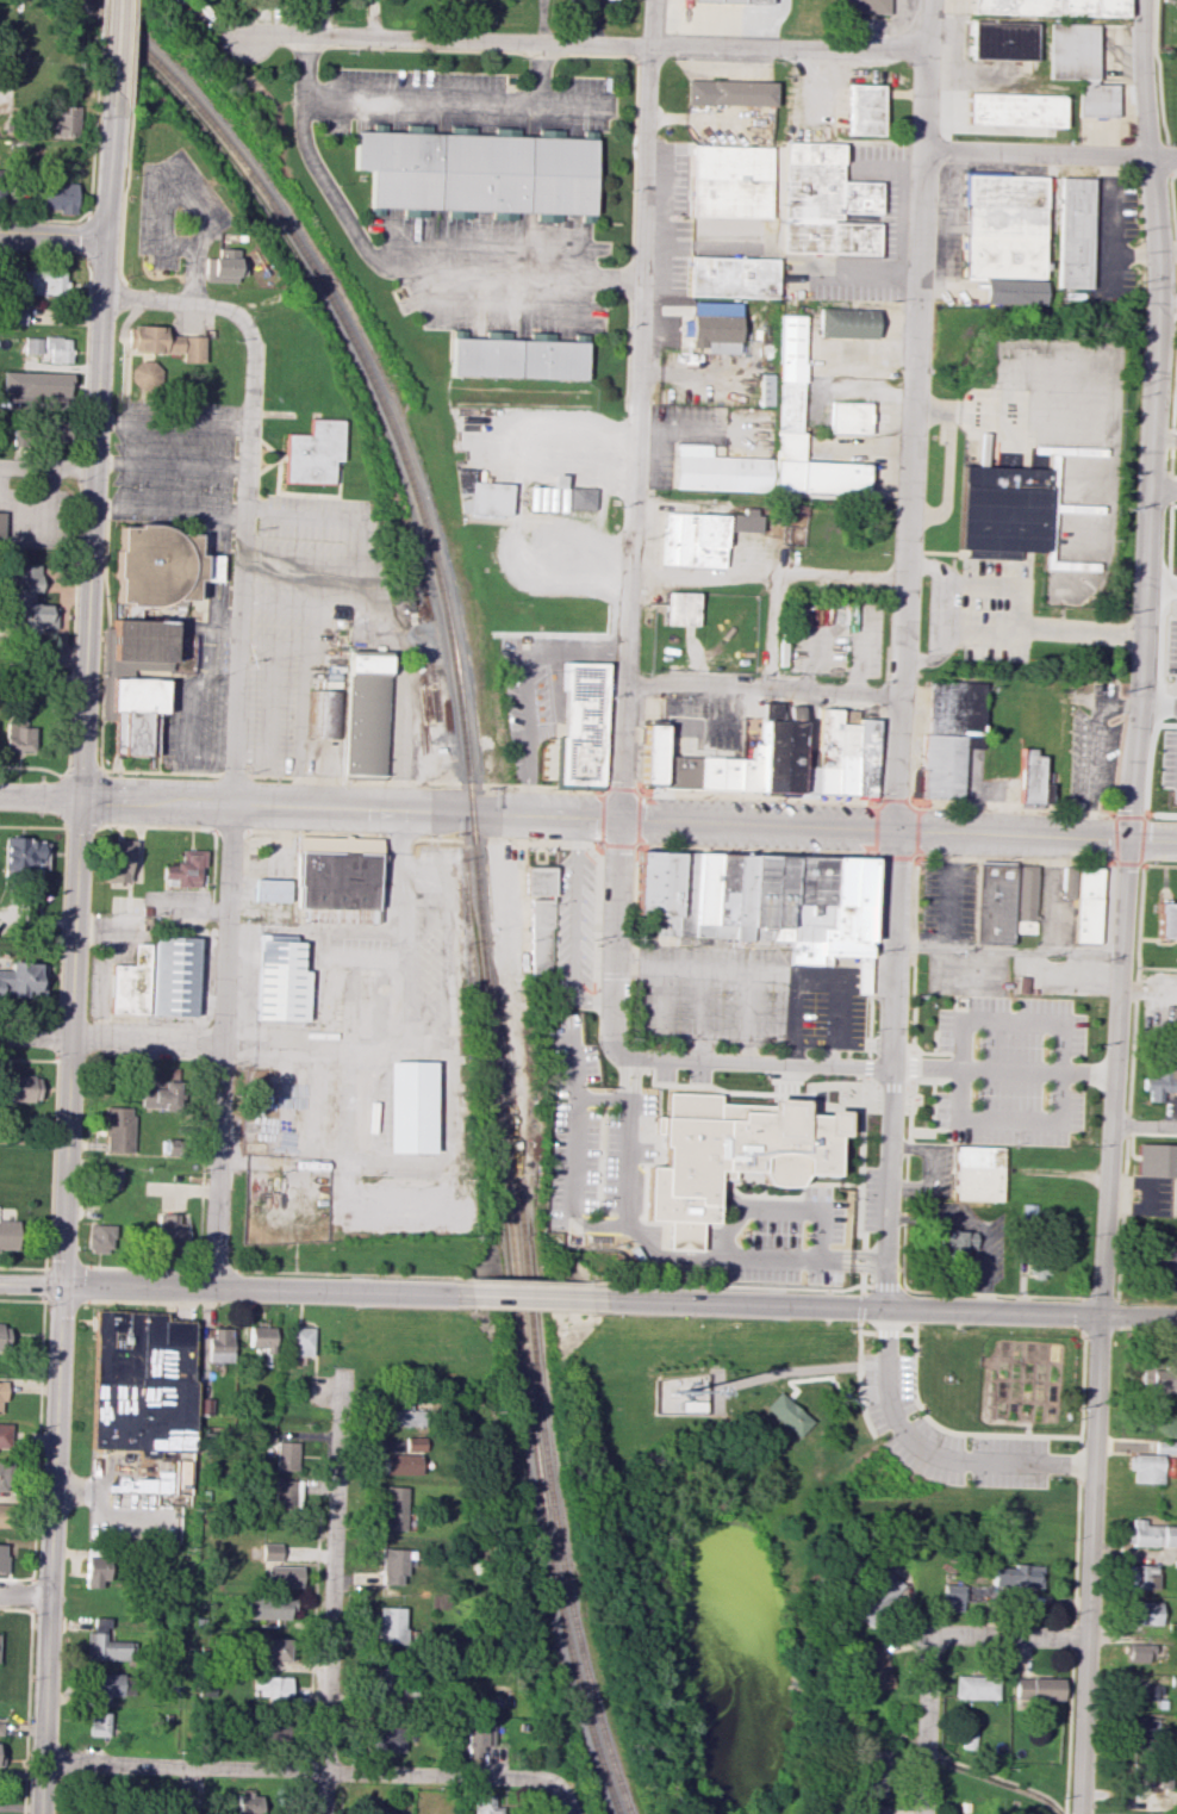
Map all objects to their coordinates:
building: (735, 0)
building: (1170, 0)
building: (864, 6)
building: (1051, 7)
road: (91, 27)
road: (131, 32)
building: (1002, 41)
road: (586, 43)
road: (113, 44)
building: (1079, 67)
road: (541, 73)
building: (729, 92)
road: (456, 102)
building: (864, 110)
building: (1016, 110)
building: (63, 122)
road: (88, 136)
road: (1048, 154)
road: (106, 163)
building: (478, 172)
road: (126, 176)
building: (729, 181)
building: (57, 197)
road: (163, 201)
building: (823, 203)
road: (45, 219)
road: (1107, 225)
building: (1003, 226)
building: (712, 229)
building: (1073, 231)
road: (51, 235)
road: (87, 238)
road: (778, 255)
road: (384, 263)
building: (220, 266)
road: (101, 267)
building: (730, 277)
building: (39, 281)
building: (1015, 292)
road: (131, 298)
road: (183, 303)
road: (1166, 303)
building: (14, 315)
building: (847, 322)
building: (714, 327)
road: (1176, 337)
building: (164, 342)
building: (49, 347)
park: (176, 358)
building: (518, 358)
road: (86, 359)
road: (147, 367)
building: (144, 374)
building: (787, 375)
building: (32, 386)
building: (764, 390)
road: (123, 403)
road: (634, 410)
road: (910, 416)
building: (849, 417)
road: (1151, 420)
road: (173, 422)
road: (247, 425)
building: (52, 429)
road: (1175, 430)
road: (1163, 446)
building: (315, 452)
road: (947, 459)
road: (172, 464)
road: (49, 467)
building: (718, 471)
road: (1162, 489)
building: (484, 493)
building: (580, 498)
road: (169, 508)
building: (1002, 510)
building: (793, 512)
road: (330, 517)
building: (743, 520)
building: (0, 526)
building: (693, 540)
road: (93, 547)
road: (952, 552)
road: (998, 560)
road: (307, 563)
road: (929, 566)
road: (205, 569)
road: (226, 570)
road: (784, 573)
road: (212, 577)
road: (704, 577)
road: (992, 585)
road: (381, 588)
road: (316, 605)
building: (679, 608)
flagpole: (193, 613)
road: (75, 616)
road: (176, 616)
road: (224, 623)
road: (323, 627)
building: (148, 629)
road: (107, 634)
road: (225, 639)
parking lot: (1171, 640)
road: (274, 647)
road: (237, 659)
road: (929, 659)
road: (1162, 659)
road: (523, 682)
road: (760, 687)
parking lot: (1104, 690)
road: (1158, 704)
road: (409, 708)
building: (325, 713)
building: (365, 715)
road: (269, 719)
road: (192, 720)
building: (583, 723)
road: (697, 728)
building: (948, 734)
building: (18, 735)
road: (1097, 739)
building: (826, 752)
building: (779, 753)
building: (649, 754)
road: (880, 754)
building: (865, 757)
parking lot: (1092, 757)
building: (846, 759)
parking lot: (1165, 762)
road: (32, 768)
road: (1175, 769)
building: (748, 770)
building: (805, 771)
building: (678, 772)
building: (717, 774)
building: (1029, 776)
road: (353, 779)
building: (1046, 787)
road: (759, 799)
road: (1014, 810)
road: (1160, 815)
road: (588, 818)
road: (99, 822)
road: (32, 825)
road: (157, 828)
road: (230, 832)
road: (422, 839)
road: (602, 844)
road: (755, 850)
building: (23, 853)
railway: (477, 855)
road: (916, 859)
road: (935, 859)
building: (117, 861)
road: (1038, 862)
road: (1116, 862)
road: (1159, 864)
building: (185, 868)
building: (1069, 882)
building: (336, 886)
building: (658, 887)
building: (272, 889)
building: (685, 893)
building: (703, 894)
building: (723, 895)
building: (741, 896)
building: (760, 896)
building: (781, 897)
building: (1025, 899)
road: (634, 900)
building: (994, 902)
building: (1088, 905)
road: (524, 907)
building: (809, 907)
building: (847, 908)
road: (1141, 915)
building: (541, 918)
building: (1166, 921)
road: (574, 925)
road: (611, 939)
road: (1157, 939)
road: (61, 951)
road: (1005, 951)
road: (913, 952)
road: (872, 955)
road: (1085, 967)
road: (1158, 968)
road: (760, 971)
building: (860, 974)
building: (173, 976)
road: (606, 977)
road: (1065, 979)
building: (23, 980)
building: (280, 981)
building: (130, 982)
road: (990, 987)
road: (1147, 992)
road: (947, 996)
road: (702, 1005)
road: (747, 1007)
road: (795, 1007)
building: (1175, 1020)
road: (111, 1039)
road: (714, 1042)
road: (862, 1044)
road: (223, 1045)
road: (208, 1050)
road: (702, 1051)
road: (746, 1052)
road: (792, 1054)
road: (827, 1054)
road: (929, 1056)
road: (747, 1063)
road: (910, 1067)
road: (908, 1068)
road: (885, 1069)
parking lot: (1010, 1073)
road: (1028, 1073)
road: (1057, 1075)
road: (929, 1080)
building: (1157, 1083)
road: (873, 1087)
building: (19, 1088)
road: (864, 1088)
road: (786, 1093)
building: (157, 1095)
building: (407, 1106)
road: (829, 1106)
road: (935, 1107)
park: (999, 1119)
road: (1144, 1124)
building: (117, 1130)
road: (929, 1132)
road: (1126, 1133)
road: (1152, 1133)
building: (722, 1150)
building: (1156, 1160)
building: (974, 1173)
building: (110, 1176)
road: (827, 1184)
park: (1150, 1217)
road: (889, 1219)
building: (168, 1230)
building: (8, 1235)
building: (99, 1238)
building: (952, 1243)
road: (294, 1259)
road: (862, 1260)
building: (1036, 1262)
building: (1163, 1265)
road: (1132, 1266)
road: (23, 1268)
road: (139, 1268)
road: (214, 1271)
road: (348, 1275)
road: (902, 1278)
road: (861, 1280)
road: (525, 1281)
road: (204, 1285)
road: (721, 1286)
road: (878, 1287)
road: (502, 1294)
road: (1084, 1300)
road: (45, 1302)
road: (150, 1302)
road: (861, 1303)
road: (58, 1305)
road: (886, 1306)
road: (907, 1306)
road: (1098, 1327)
road: (911, 1329)
road: (886, 1330)
building: (2, 1336)
building: (257, 1336)
road: (1004, 1337)
building: (298, 1341)
road: (1046, 1341)
building: (218, 1346)
road: (1038, 1361)
road: (801, 1368)
road: (857, 1379)
building: (1158, 1379)
road: (1019, 1380)
road: (1045, 1380)
building: (141, 1381)
road: (1084, 1384)
road: (1055, 1387)
railway: (540, 1394)
building: (1, 1396)
road: (999, 1398)
road: (1029, 1402)
building: (400, 1411)
building: (787, 1414)
road: (38, 1418)
road: (984, 1421)
road: (1027, 1422)
building: (4, 1436)
parking lot: (944, 1436)
road: (958, 1436)
building: (413, 1443)
building: (1165, 1447)
road: (929, 1452)
building: (285, 1455)
road: (1081, 1458)
building: (400, 1464)
building: (1144, 1467)
building: (1, 1471)
building: (286, 1492)
park: (786, 1497)
building: (393, 1508)
building: (2, 1515)
building: (1150, 1534)
building: (270, 1552)
building: (2, 1557)
building: (392, 1565)
building: (95, 1567)
building: (282, 1576)
building: (1016, 1576)
building: (1139, 1576)
road: (331, 1590)
road: (24, 1592)
building: (876, 1596)
building: (952, 1597)
building: (268, 1608)
building: (1142, 1613)
building: (390, 1624)
road: (1009, 1635)
building: (105, 1644)
road: (1073, 1647)
building: (272, 1648)
building: (1138, 1652)
building: (874, 1666)
building: (111, 1685)
building: (270, 1686)
building: (973, 1686)
building: (1035, 1688)
building: (1142, 1691)
building: (98, 1723)
road: (922, 1723)
building: (0, 1725)
building: (272, 1731)
building: (1139, 1732)
building: (478, 1737)
building: (385, 1739)
building: (0, 1753)
road: (298, 1771)
building: (873, 1773)
building: (1139, 1775)
road: (563, 1797)
building: (248, 1803)
building: (486, 1804)
building: (872, 1809)

